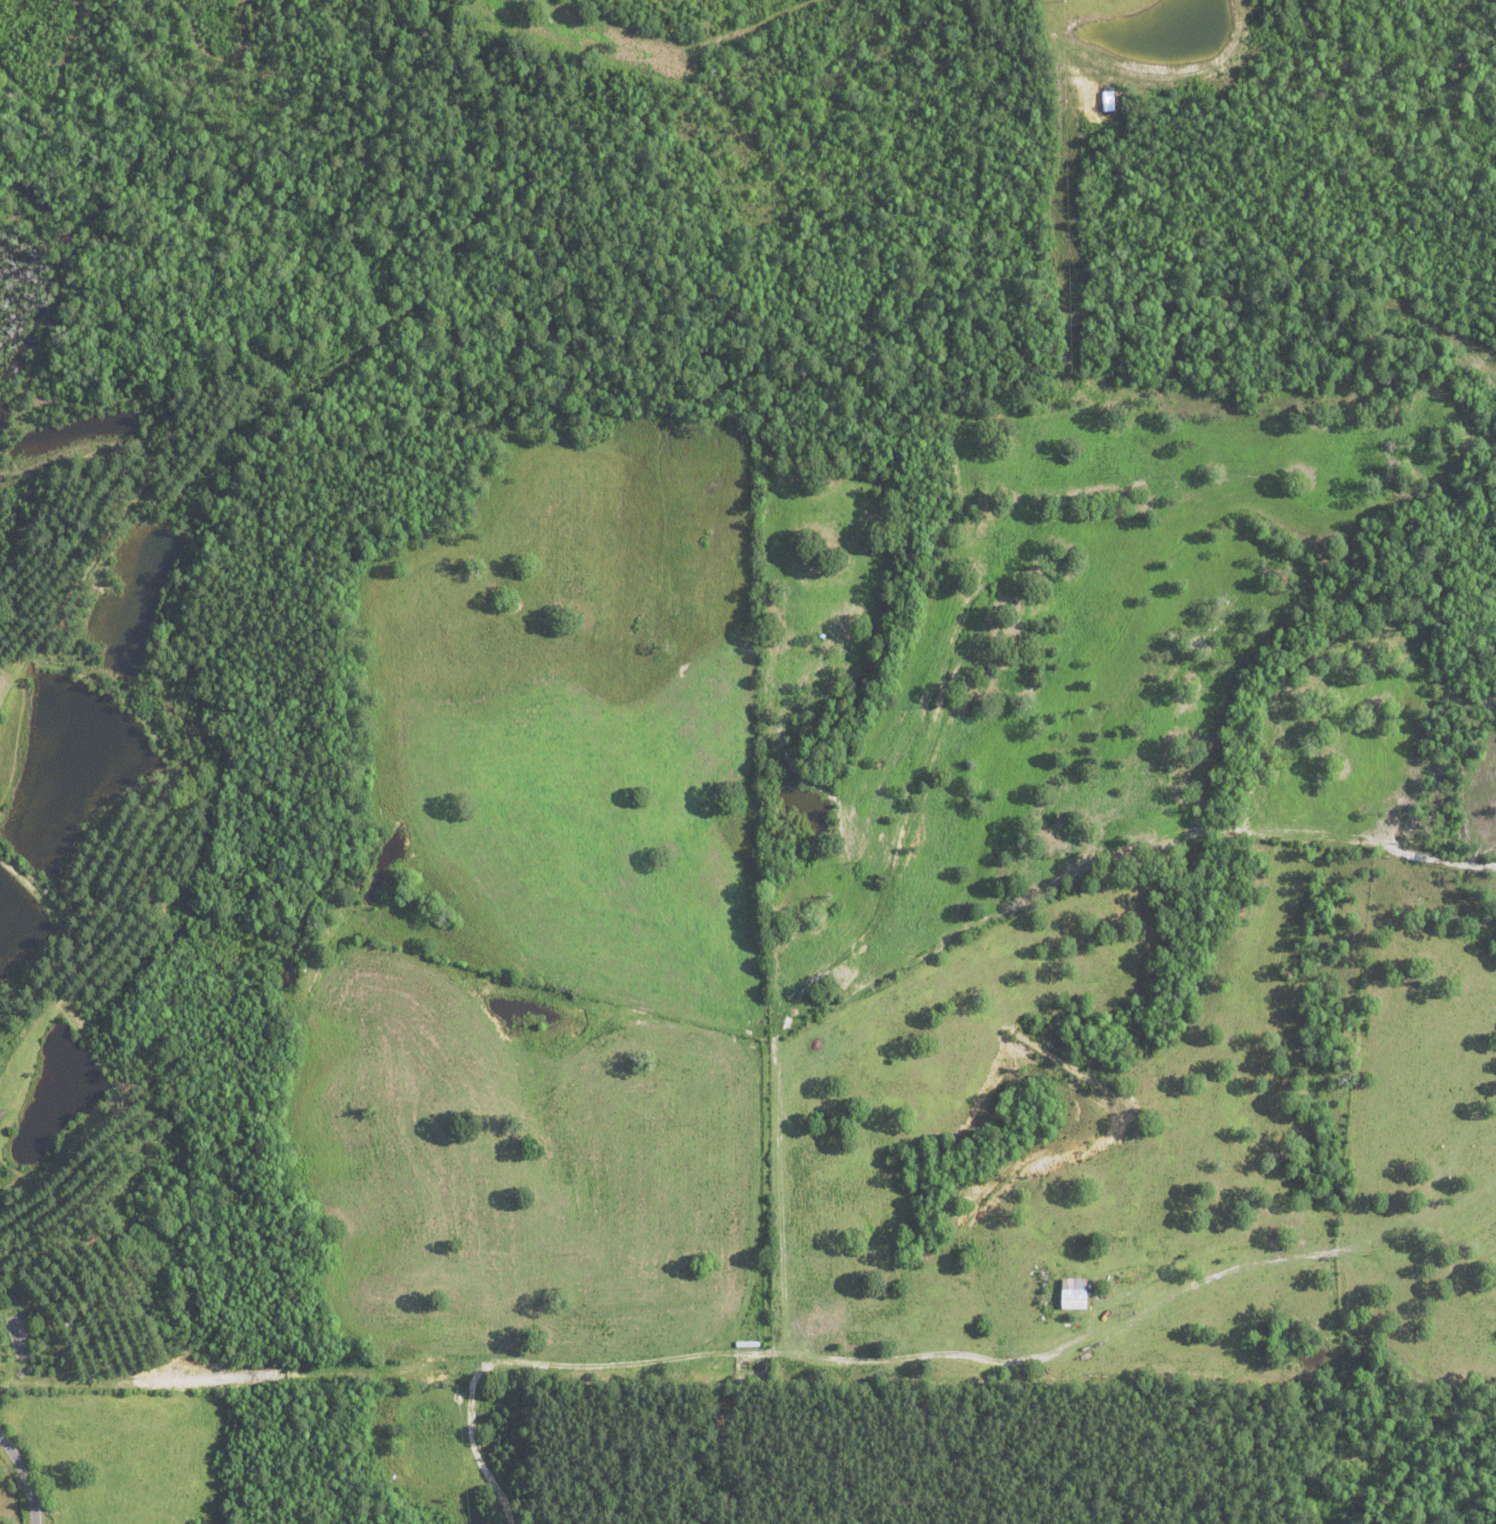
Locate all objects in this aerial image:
building: (1072, 1293)
road: (25, 1478)

